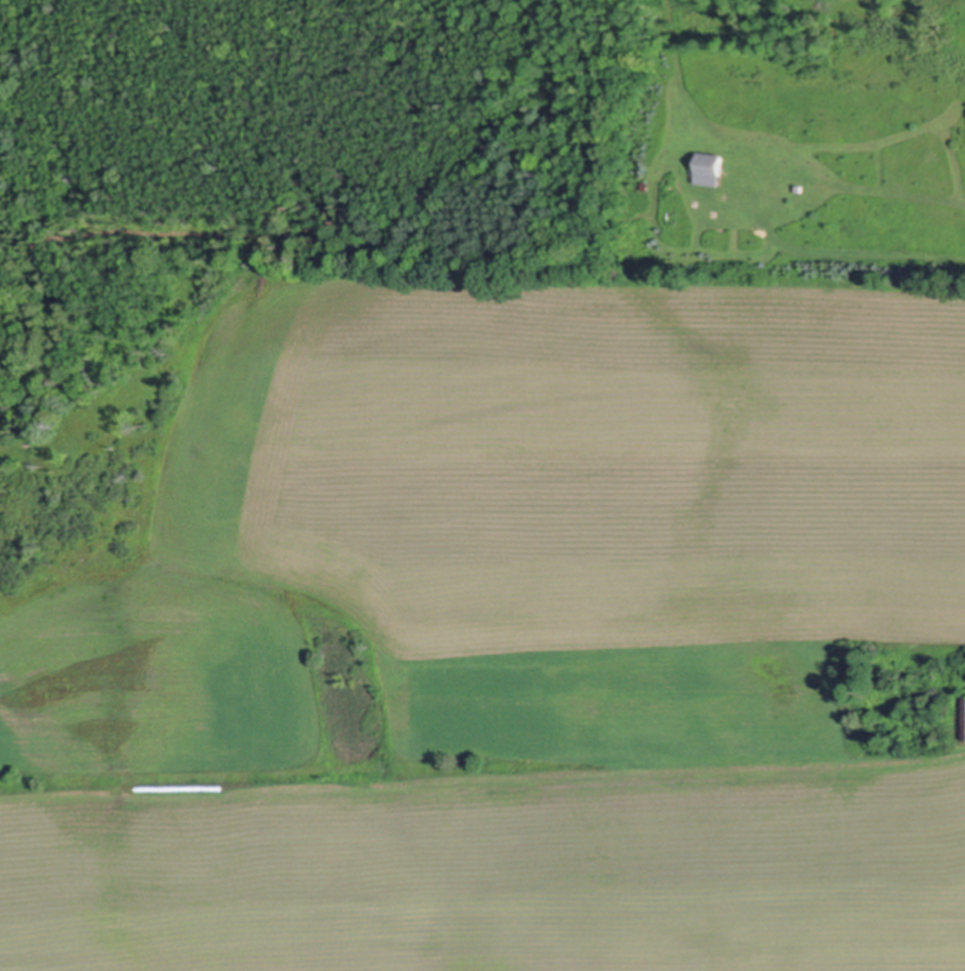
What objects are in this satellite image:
building: (709, 163)
building: (964, 714)

